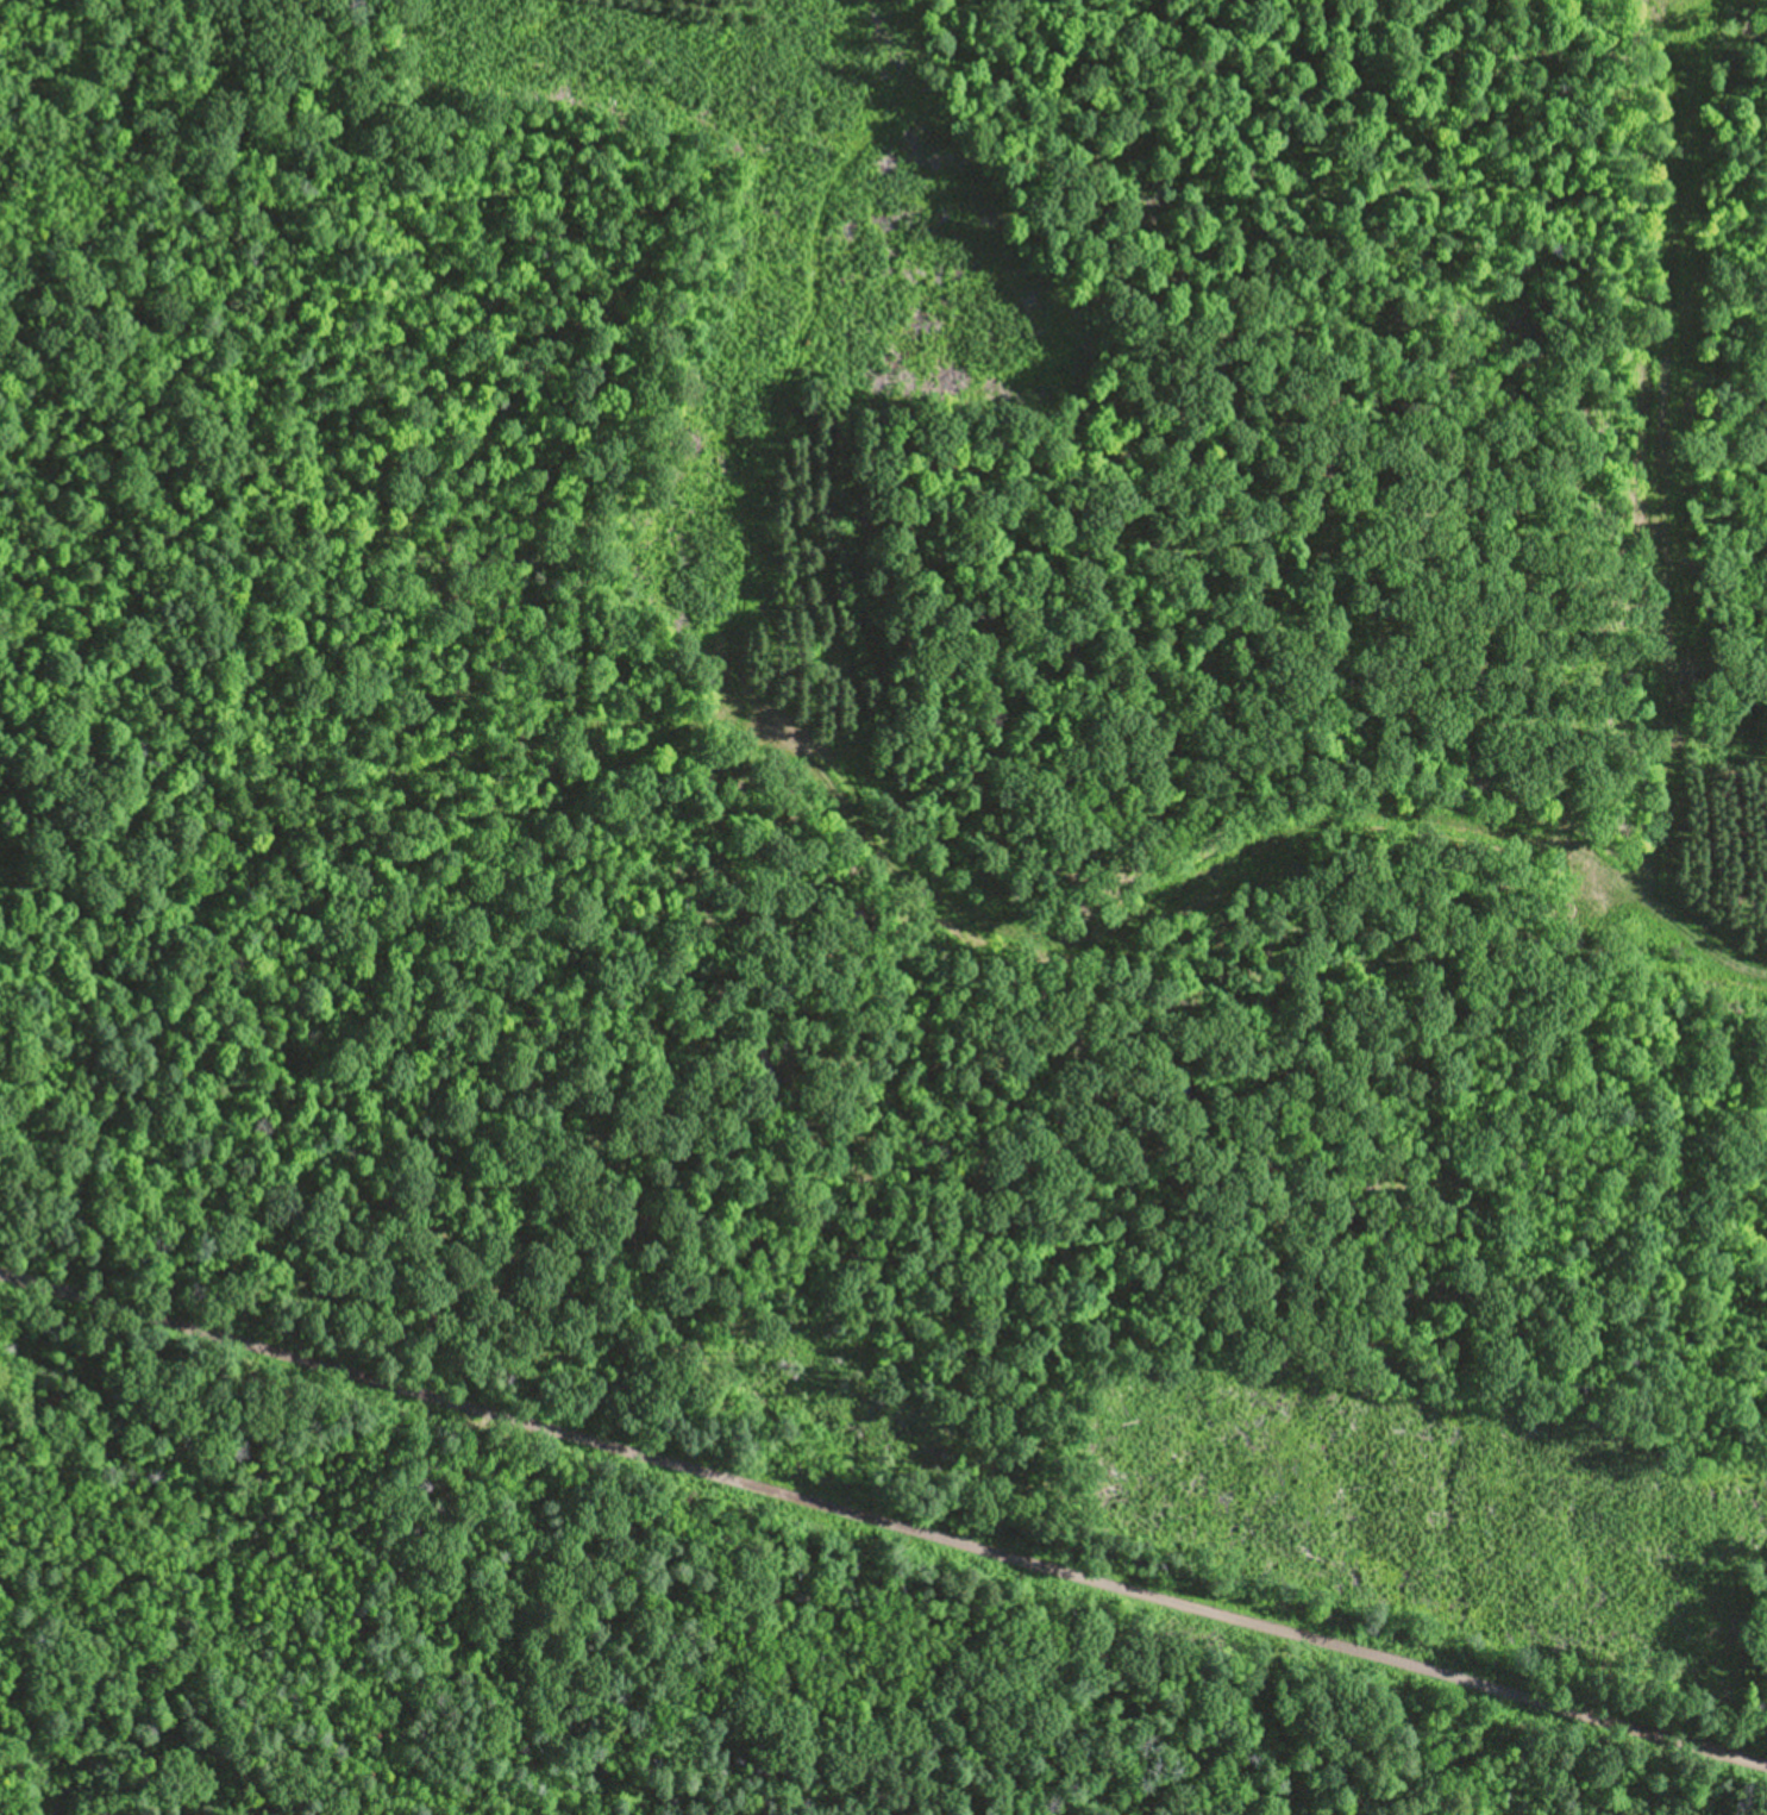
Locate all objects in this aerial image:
road: (883, 1510)
road: (1584, 1810)

